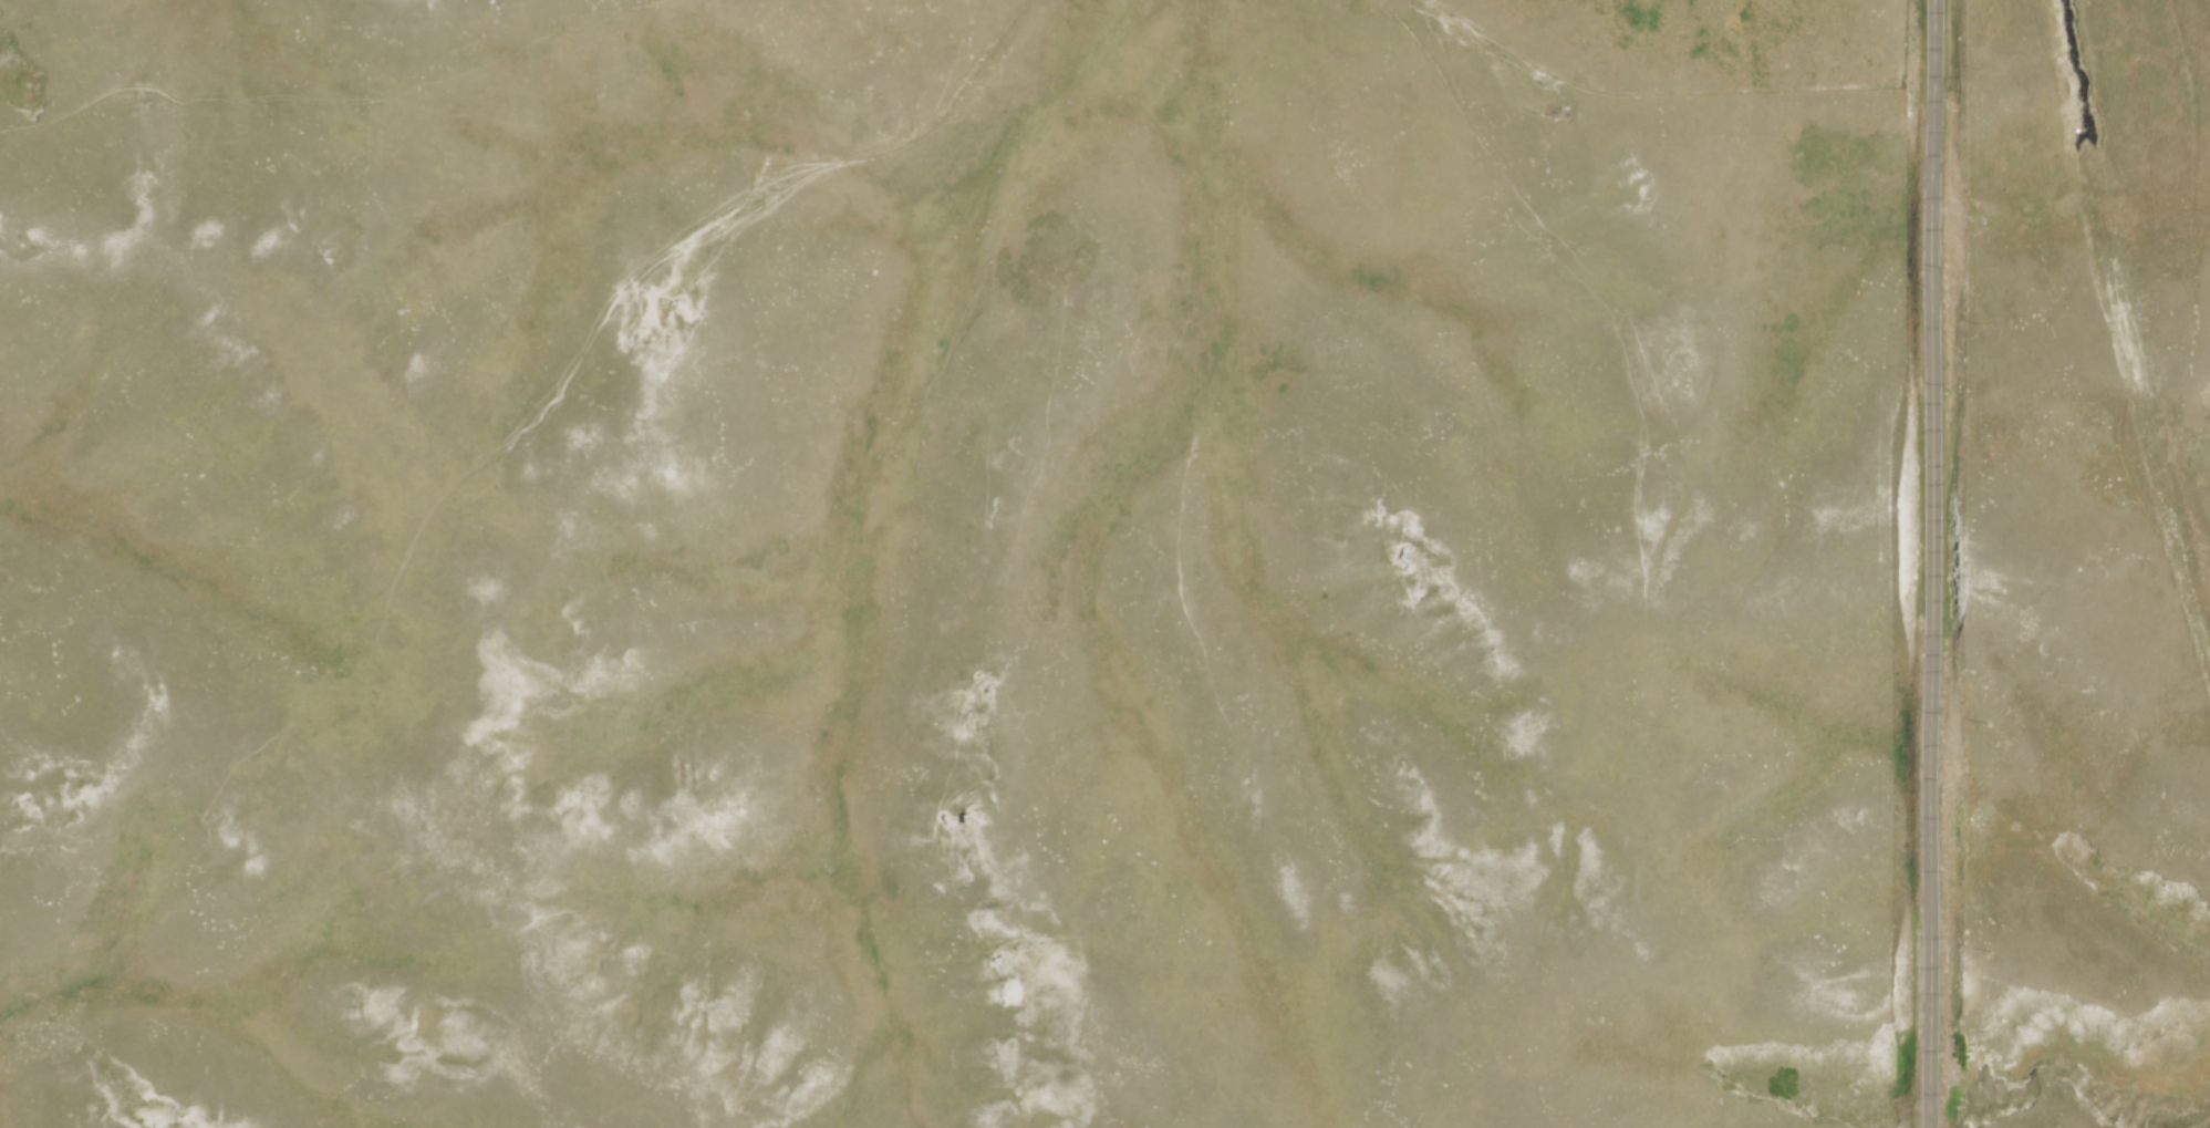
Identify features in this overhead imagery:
road: (1932, 563)

